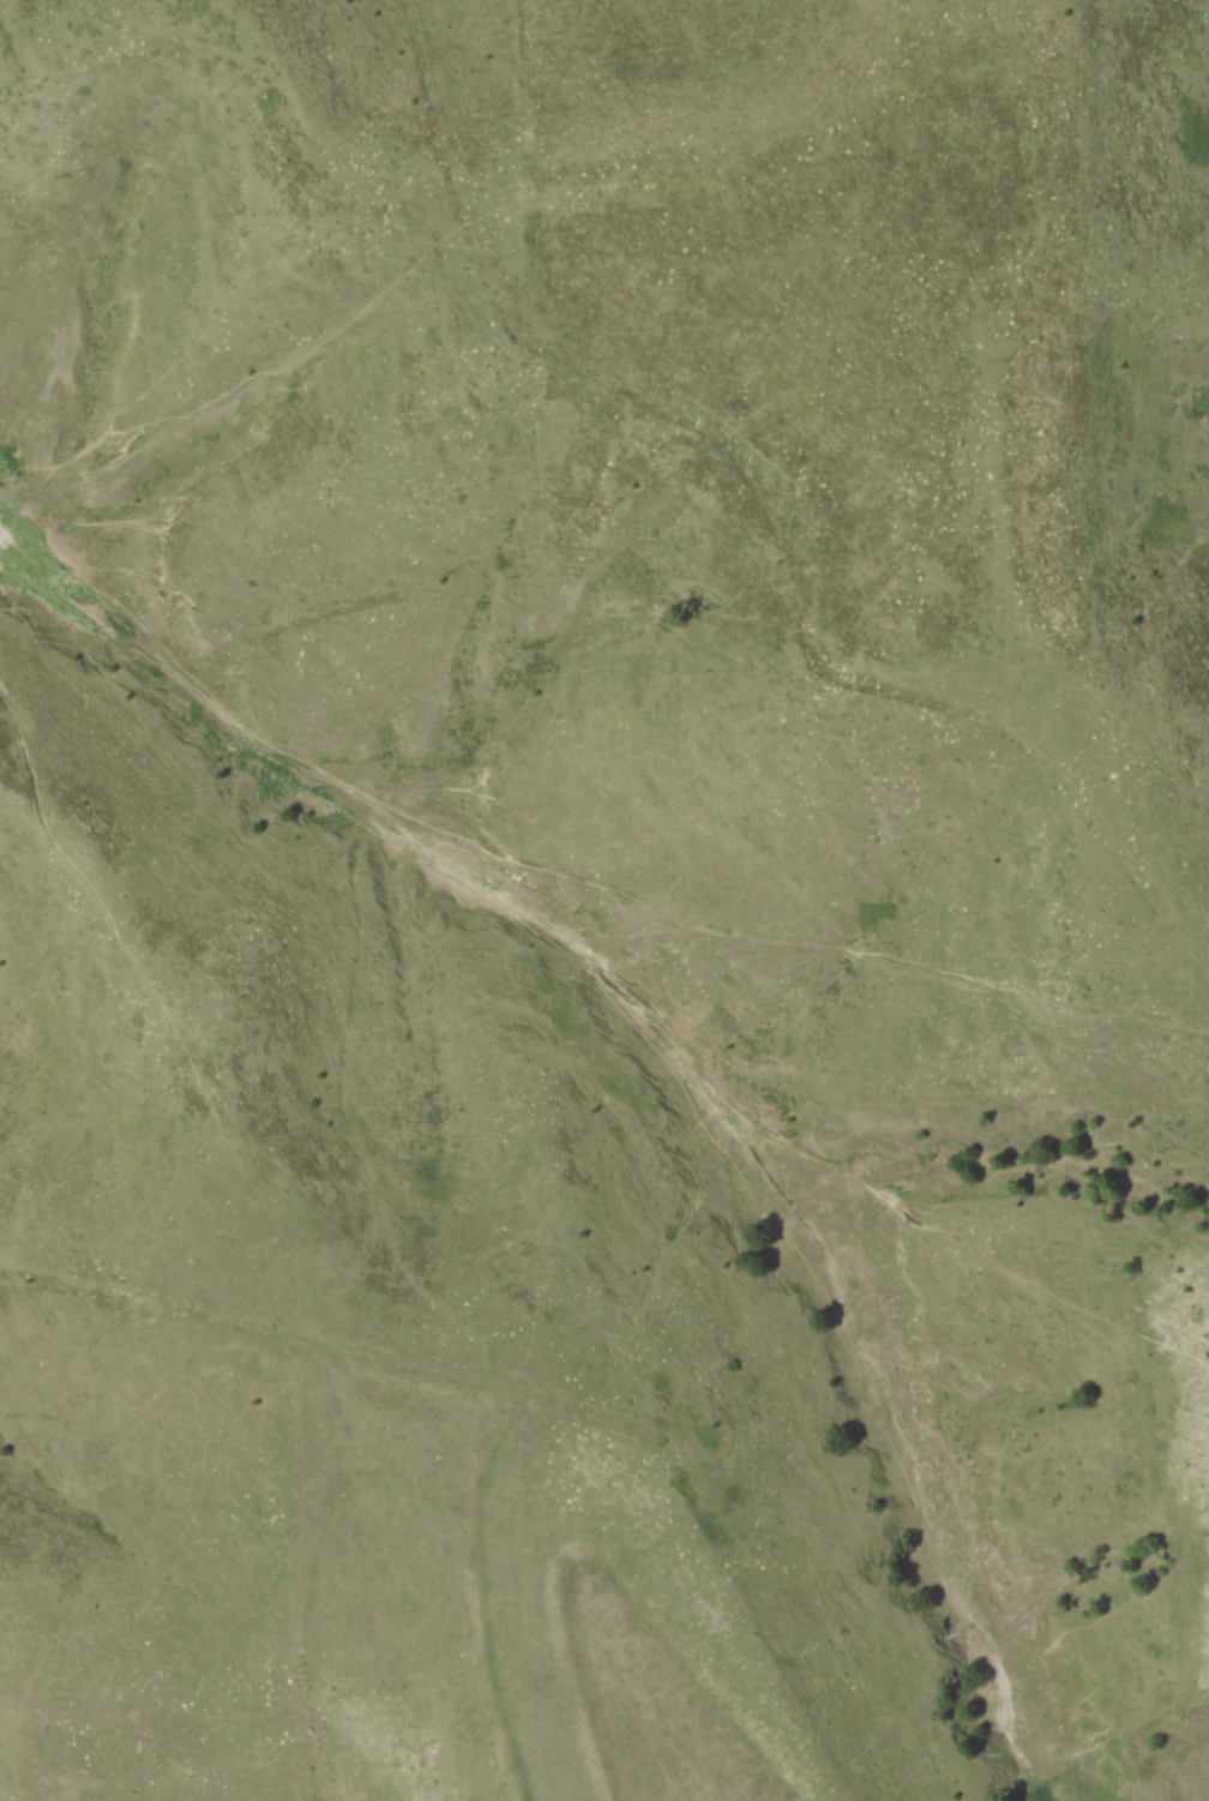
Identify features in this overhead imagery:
wastewater plant: (1139, 1759)

